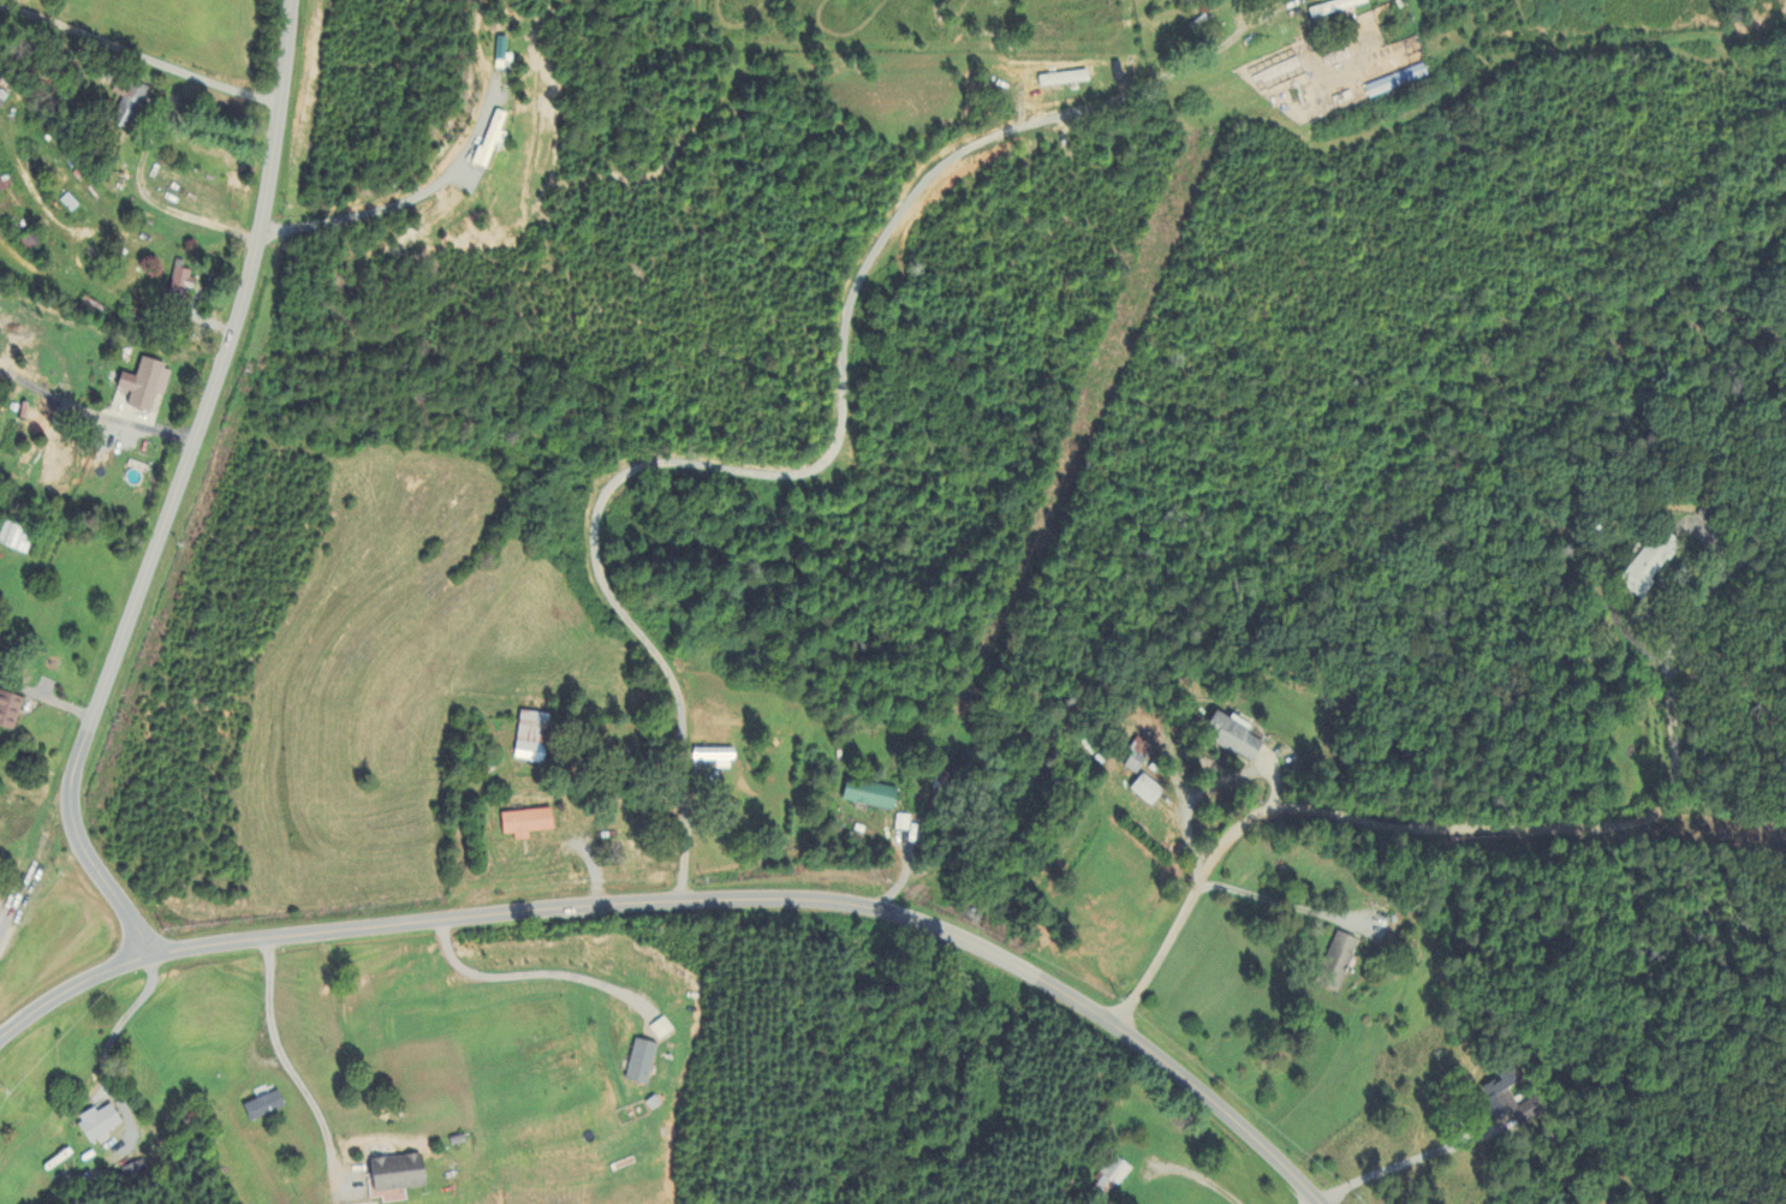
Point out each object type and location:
building: (1336, 8)
road: (141, 52)
building: (1065, 79)
building: (1397, 83)
building: (132, 106)
building: (493, 139)
building: (70, 204)
road: (398, 208)
building: (183, 281)
building: (147, 386)
road: (93, 417)
road: (786, 475)
road: (175, 487)
building: (14, 538)
road: (1709, 538)
building: (1647, 566)
building: (10, 711)
building: (532, 739)
building: (1137, 757)
building: (716, 758)
road: (1210, 786)
building: (1148, 792)
building: (870, 795)
building: (528, 824)
road: (1495, 827)
road: (695, 901)
road: (2, 925)
building: (1341, 956)
road: (530, 978)
road: (126, 1020)
building: (662, 1031)
road: (282, 1056)
building: (642, 1063)
building: (1508, 1103)
building: (264, 1108)
building: (99, 1123)
road: (1410, 1162)
building: (1112, 1175)
building: (137, 1176)
road: (1199, 1178)
building: (398, 1179)
road: (1306, 1199)

